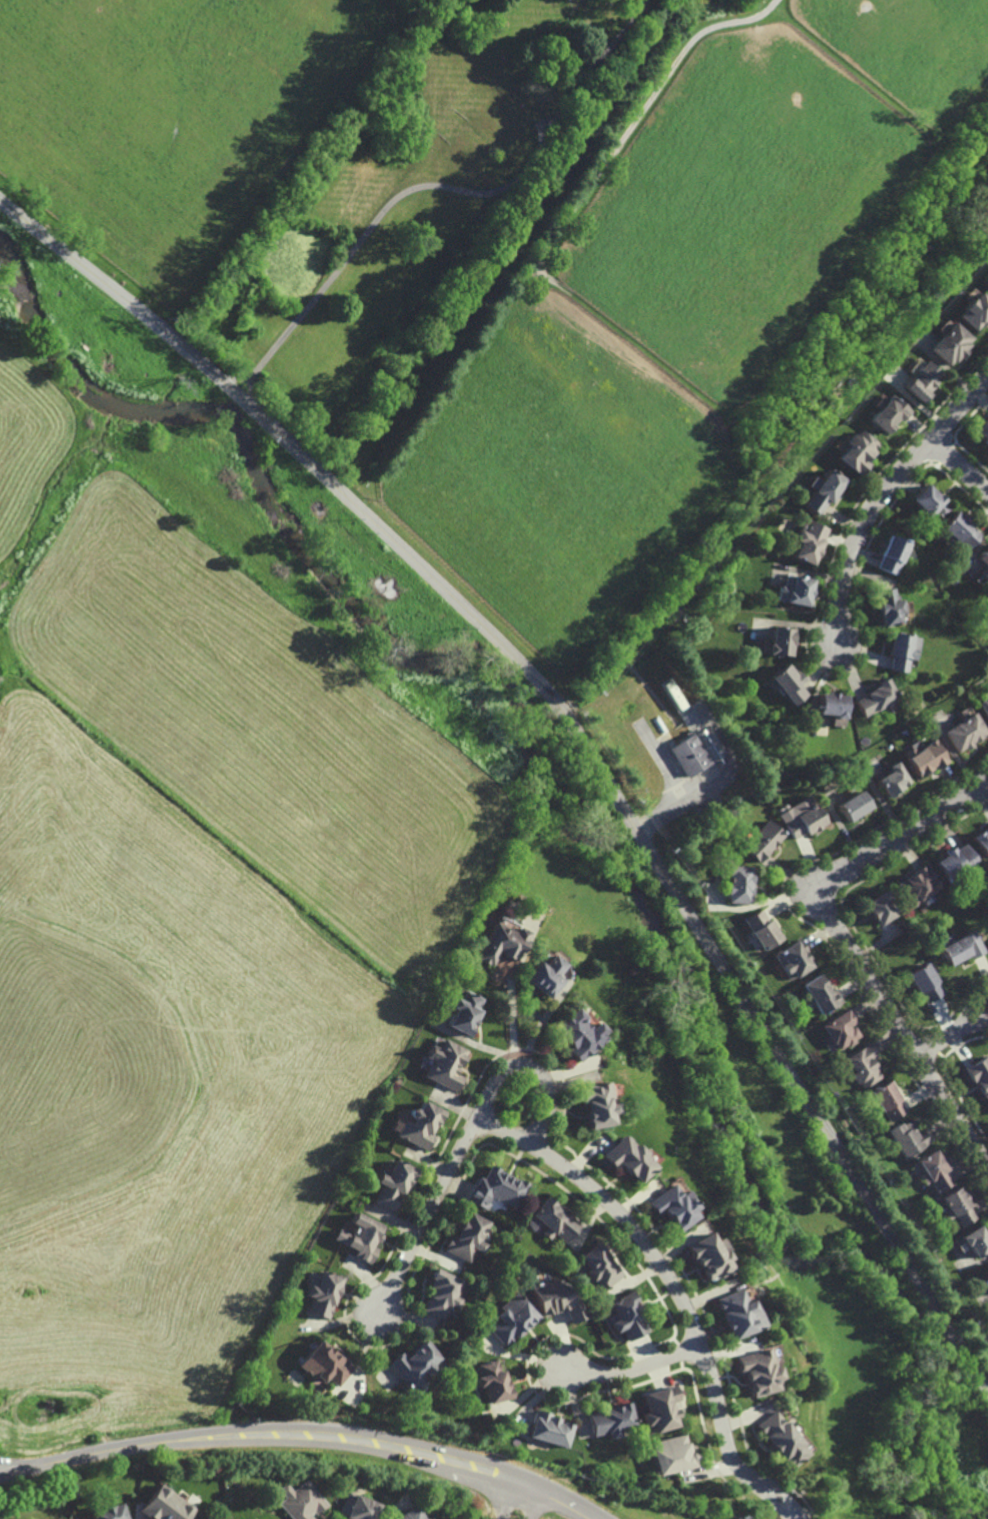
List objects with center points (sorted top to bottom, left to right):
road: (628, 130)
road: (439, 186)
building: (987, 281)
building: (975, 311)
building: (952, 344)
road: (237, 378)
building: (922, 381)
building: (890, 414)
building: (983, 432)
building: (858, 452)
road: (960, 466)
road: (884, 492)
building: (824, 493)
building: (931, 504)
building: (962, 530)
building: (807, 541)
building: (893, 551)
building: (984, 556)
building: (799, 588)
building: (890, 604)
building: (780, 639)
building: (903, 648)
building: (789, 681)
building: (879, 697)
building: (832, 702)
building: (985, 704)
road: (576, 726)
building: (967, 731)
building: (689, 755)
building: (927, 756)
building: (893, 778)
building: (855, 804)
building: (805, 821)
building: (763, 840)
building: (983, 840)
building: (957, 862)
building: (739, 884)
building: (919, 885)
building: (879, 908)
building: (761, 930)
road: (846, 940)
building: (505, 944)
building: (963, 948)
building: (792, 960)
building: (544, 975)
building: (926, 983)
building: (820, 995)
road: (977, 1003)
building: (466, 1013)
road: (510, 1016)
building: (839, 1032)
building: (575, 1036)
road: (950, 1036)
building: (446, 1065)
building: (862, 1067)
road: (535, 1068)
building: (980, 1075)
building: (887, 1102)
building: (595, 1107)
building: (422, 1127)
building: (907, 1141)
building: (624, 1161)
building: (933, 1174)
building: (394, 1186)
building: (498, 1190)
building: (670, 1205)
building: (956, 1206)
road: (430, 1214)
building: (553, 1219)
building: (360, 1237)
building: (975, 1238)
building: (464, 1239)
building: (706, 1253)
building: (597, 1265)
building: (986, 1270)
building: (440, 1290)
road: (676, 1290)
building: (321, 1291)
building: (554, 1298)
building: (735, 1312)
building: (625, 1314)
building: (509, 1317)
building: (323, 1361)
building: (412, 1363)
road: (632, 1369)
building: (756, 1370)
building: (489, 1380)
building: (659, 1407)
building: (610, 1419)
building: (34, 1422)
road: (309, 1432)
building: (550, 1432)
building: (779, 1438)
building: (669, 1454)
road: (7, 1468)
road: (7, 1472)
road: (507, 1498)
building: (300, 1500)
road: (533, 1504)
building: (163, 1505)
building: (356, 1507)
building: (109, 1512)
building: (411, 1514)
building: (65, 1518)

